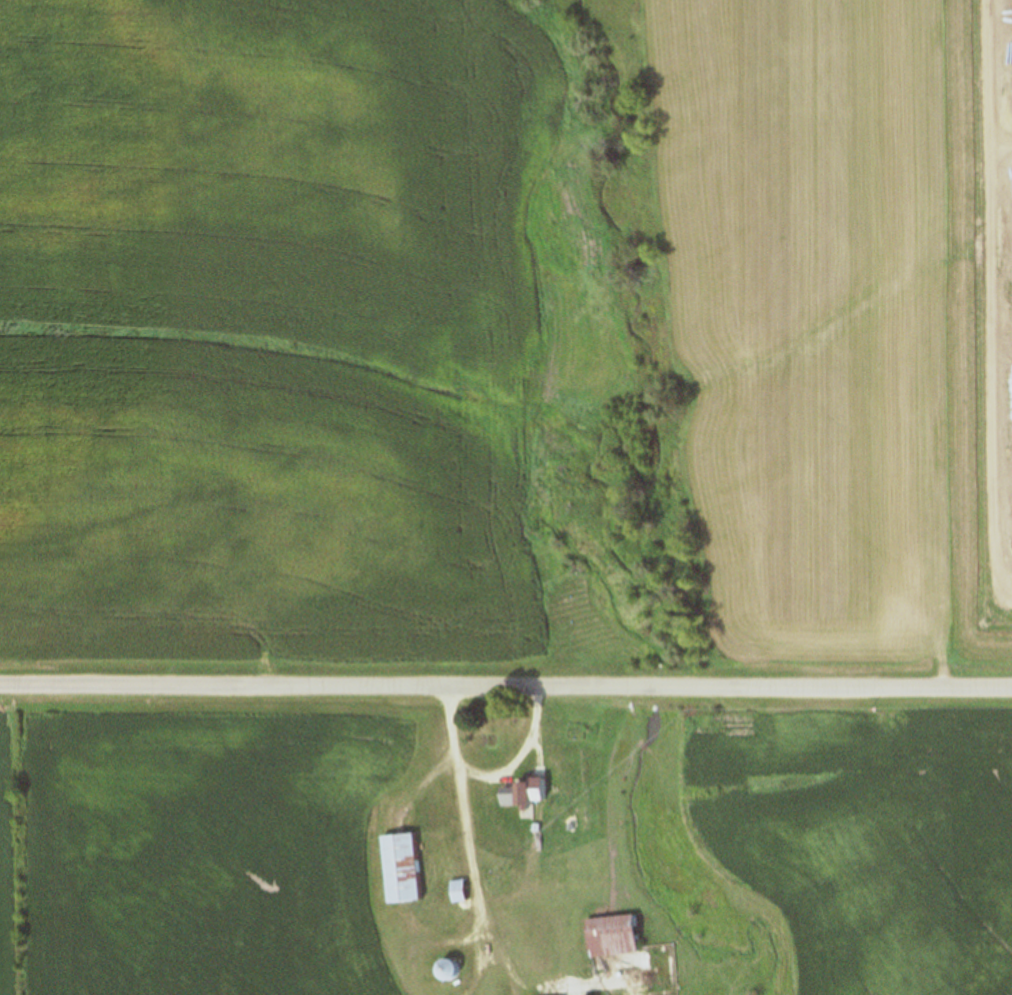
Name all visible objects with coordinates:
road: (505, 692)
building: (518, 792)
building: (395, 868)
building: (453, 891)
building: (609, 936)
building: (442, 969)

